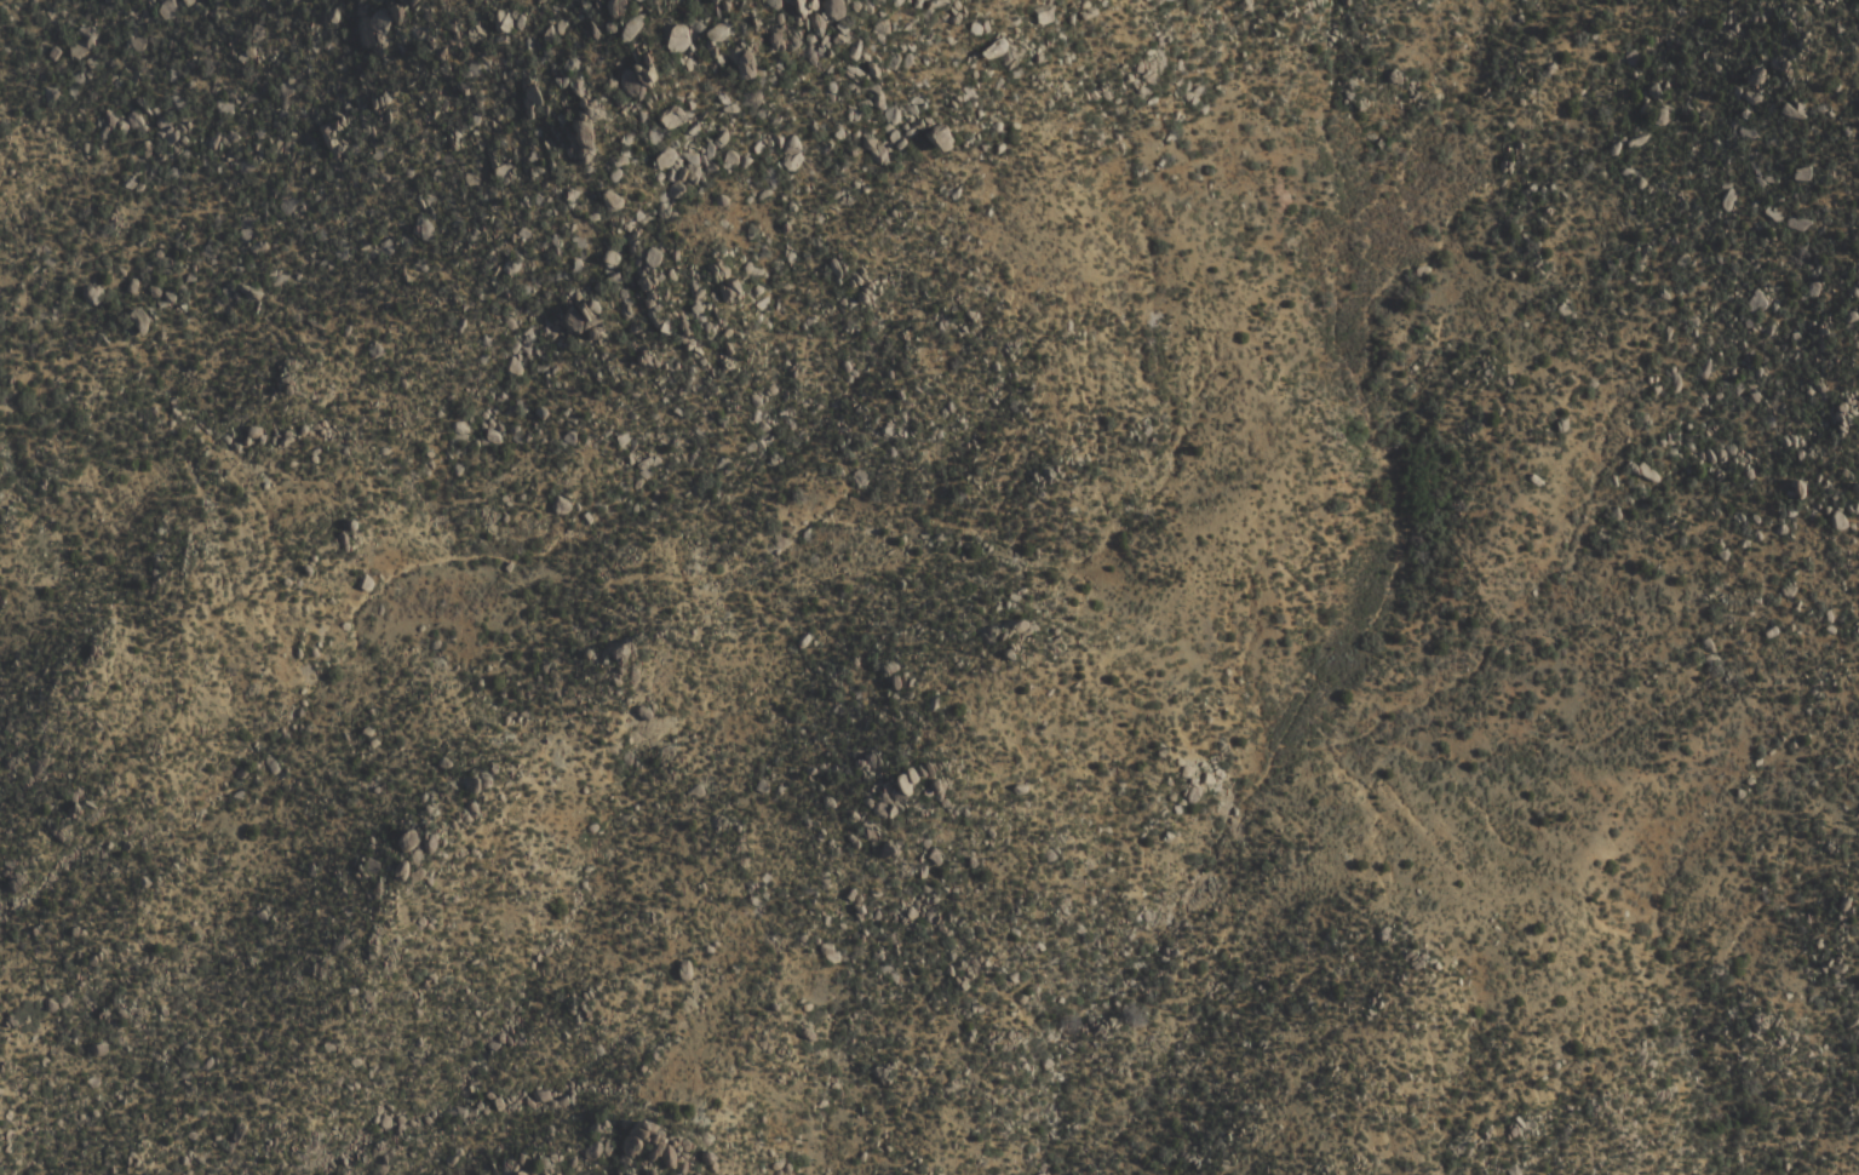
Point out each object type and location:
building: (706, 0)
building: (513, 21)
building: (744, 65)
building: (647, 73)
building: (671, 116)
building: (583, 134)
building: (940, 138)
building: (792, 151)
building: (647, 1144)

